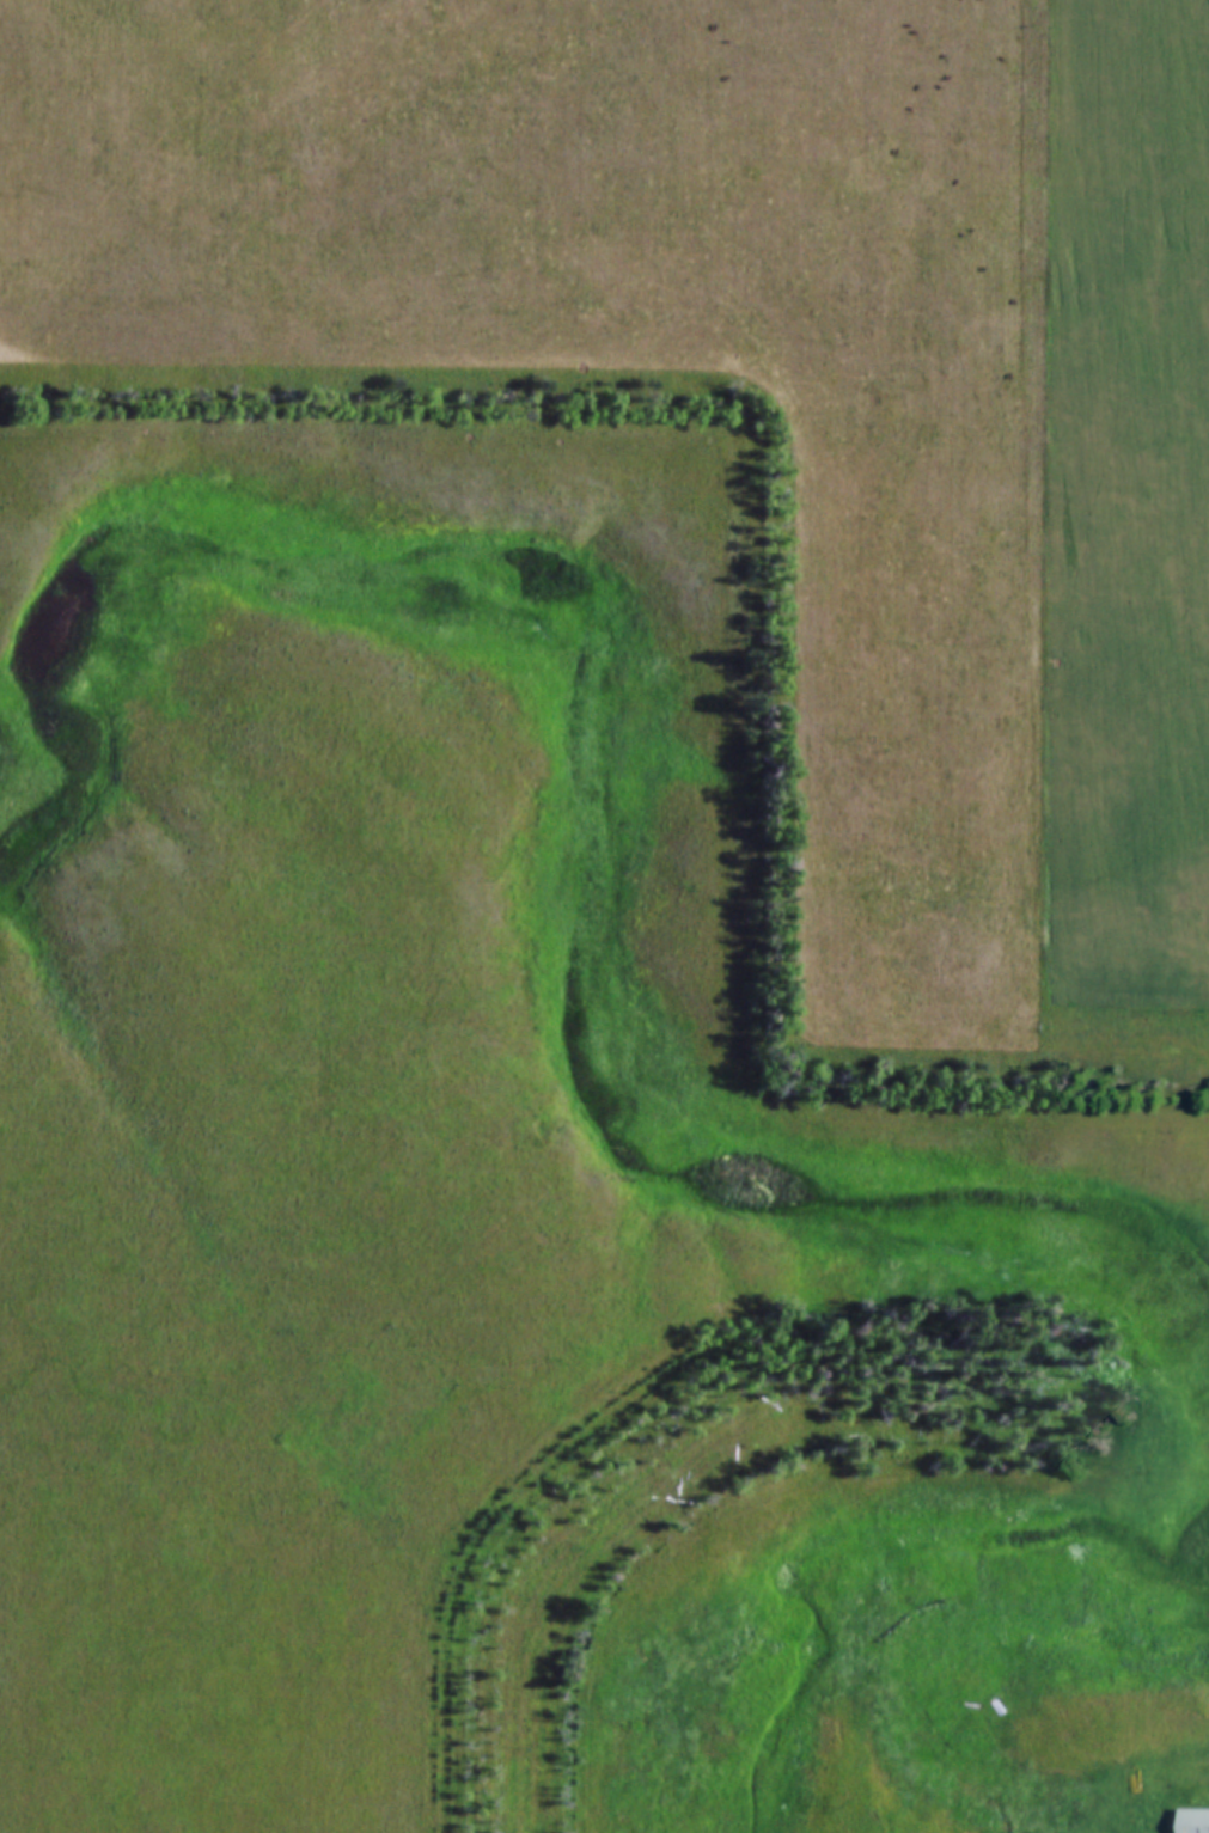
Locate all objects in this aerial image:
building: (1190, 1814)

